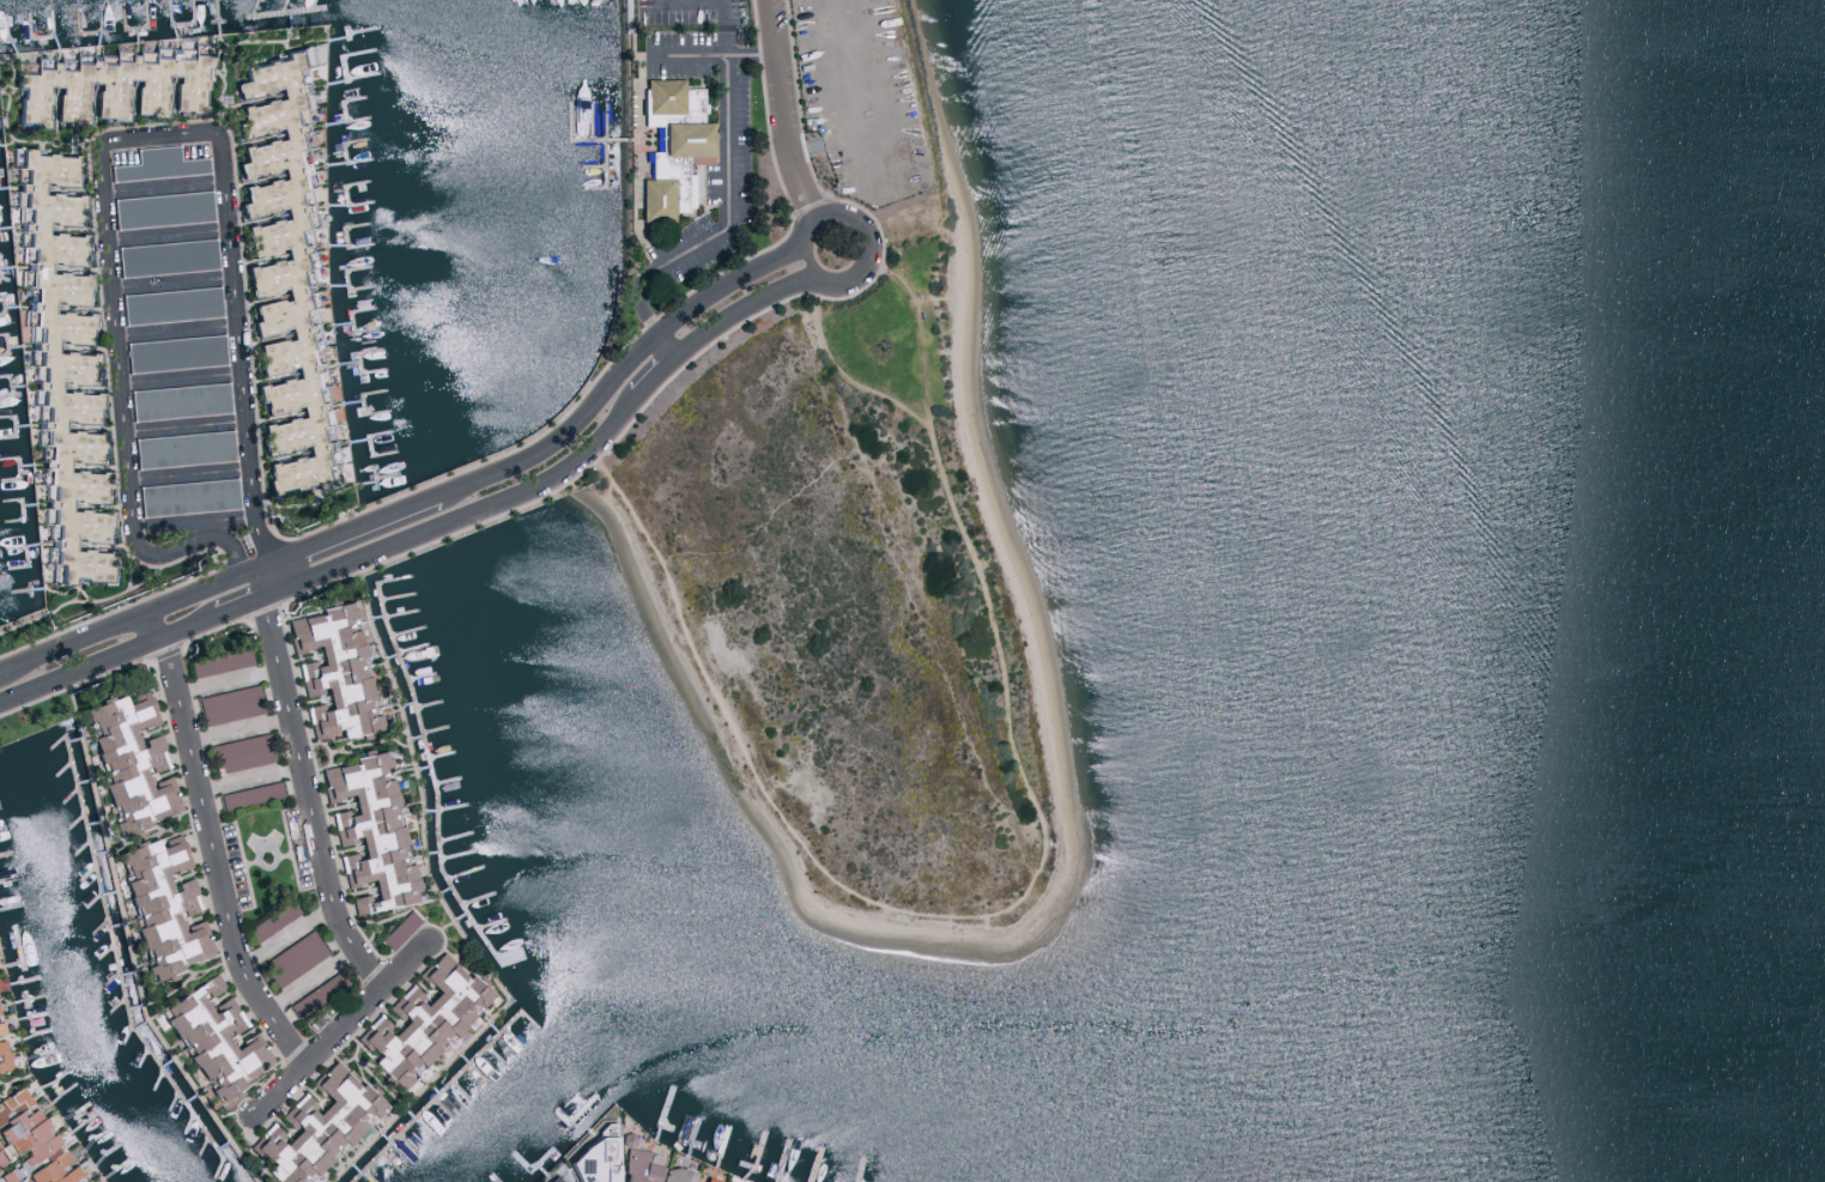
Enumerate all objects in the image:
road: (711, 55)
building: (107, 86)
building: (669, 102)
road: (778, 110)
building: (686, 140)
road: (117, 145)
building: (158, 164)
road: (170, 183)
building: (663, 184)
building: (162, 208)
road: (721, 231)
road: (174, 232)
building: (165, 256)
road: (820, 278)
road: (177, 279)
building: (280, 279)
road: (740, 308)
road: (182, 326)
building: (174, 352)
road: (619, 372)
road: (186, 375)
road: (655, 376)
building: (178, 400)
road: (189, 424)
building: (183, 448)
road: (193, 473)
park: (952, 480)
building: (188, 496)
road: (469, 510)
road: (196, 517)
road: (207, 529)
road: (341, 531)
road: (247, 600)
road: (122, 619)
road: (152, 623)
road: (107, 656)
building: (220, 662)
road: (225, 678)
building: (229, 704)
road: (237, 728)
building: (240, 752)
building: (129, 762)
road: (250, 778)
building: (249, 794)
road: (309, 798)
building: (369, 832)
road: (214, 859)
building: (162, 905)
building: (272, 921)
building: (399, 929)
road: (291, 936)
building: (295, 957)
building: (317, 994)
building: (422, 1022)
road: (346, 1029)
building: (0, 1031)
building: (214, 1042)
building: (4, 1056)
building: (315, 1127)
building: (30, 1145)
building: (637, 1166)
building: (674, 1175)
building: (552, 1178)
building: (708, 1180)
building: (691, 1181)

